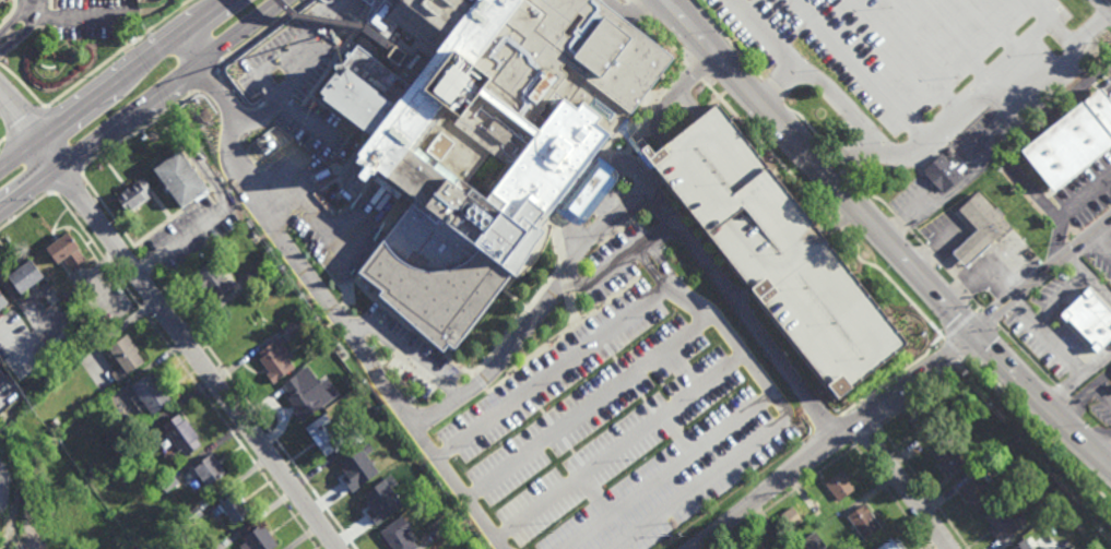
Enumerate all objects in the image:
road: (1109, 1)
building: (317, 8)
road: (640, 10)
road: (624, 11)
road: (74, 16)
road: (16, 20)
parking lot: (96, 20)
road: (316, 20)
road: (339, 22)
road: (26, 32)
road: (262, 33)
road: (728, 40)
road: (669, 41)
road: (193, 46)
road: (117, 53)
building: (395, 56)
road: (276, 64)
road: (132, 69)
road: (299, 73)
road: (698, 74)
road: (208, 79)
road: (686, 83)
road: (23, 84)
road: (772, 94)
road: (140, 106)
road: (256, 114)
road: (20, 115)
road: (658, 115)
building: (203, 116)
road: (24, 121)
road: (307, 122)
road: (811, 128)
road: (140, 130)
road: (997, 132)
road: (68, 133)
building: (267, 136)
building: (483, 139)
road: (2, 140)
building: (1071, 142)
building: (270, 144)
building: (258, 145)
road: (769, 150)
building: (263, 151)
road: (19, 153)
road: (842, 163)
road: (22, 172)
building: (941, 174)
road: (630, 175)
building: (908, 176)
building: (179, 180)
road: (648, 180)
road: (68, 181)
road: (273, 182)
road: (586, 193)
building: (587, 193)
road: (870, 195)
building: (134, 196)
road: (639, 206)
road: (25, 212)
road: (1066, 212)
road: (110, 214)
road: (317, 215)
road: (838, 219)
road: (836, 223)
road: (901, 224)
building: (980, 227)
gas station: (978, 230)
road: (884, 236)
road: (917, 239)
road: (575, 241)
road: (1102, 243)
building: (775, 251)
parking lot: (775, 251)
building: (67, 253)
road: (931, 254)
road: (617, 265)
road: (1077, 265)
road: (149, 267)
road: (947, 270)
building: (255, 274)
road: (1042, 276)
building: (26, 278)
building: (212, 282)
road: (893, 283)
road: (1098, 287)
road: (965, 288)
road: (741, 299)
building: (3, 300)
road: (1061, 300)
road: (978, 302)
road: (24, 307)
road: (978, 309)
road: (333, 313)
road: (1025, 313)
road: (989, 315)
building: (1090, 319)
road: (709, 321)
road: (959, 324)
building: (294, 325)
building: (327, 325)
traffic signals: (976, 334)
road: (186, 344)
road: (983, 345)
road: (1060, 350)
road: (957, 351)
road: (7, 354)
road: (1027, 354)
building: (127, 355)
road: (405, 355)
building: (274, 359)
road: (1096, 367)
road: (186, 369)
road: (555, 371)
road: (895, 378)
building: (350, 379)
building: (152, 390)
building: (965, 390)
road: (1048, 390)
building: (305, 391)
road: (1063, 392)
road: (1086, 393)
road: (1102, 394)
road: (924, 395)
road: (1, 401)
parking lot: (622, 407)
road: (589, 409)
road: (256, 413)
road: (871, 414)
road: (662, 417)
road: (834, 421)
building: (56, 422)
building: (923, 423)
road: (847, 430)
building: (180, 432)
building: (322, 433)
road: (866, 434)
building: (354, 437)
road: (1036, 437)
road: (832, 442)
road: (1106, 453)
building: (946, 456)
building: (392, 458)
building: (348, 466)
building: (208, 468)
road: (669, 473)
road: (720, 476)
building: (167, 481)
building: (839, 485)
road: (906, 486)
building: (1057, 486)
road: (924, 487)
building: (412, 489)
power substation: (3, 490)
building: (978, 491)
road: (596, 494)
road: (782, 497)
road: (891, 497)
building: (374, 504)
building: (233, 505)
road: (541, 506)
building: (191, 514)
building: (791, 517)
building: (862, 520)
building: (1003, 522)
building: (440, 526)
building: (854, 533)
building: (399, 534)
building: (257, 538)
building: (780, 540)
building: (814, 541)
building: (1029, 544)
building: (887, 545)

